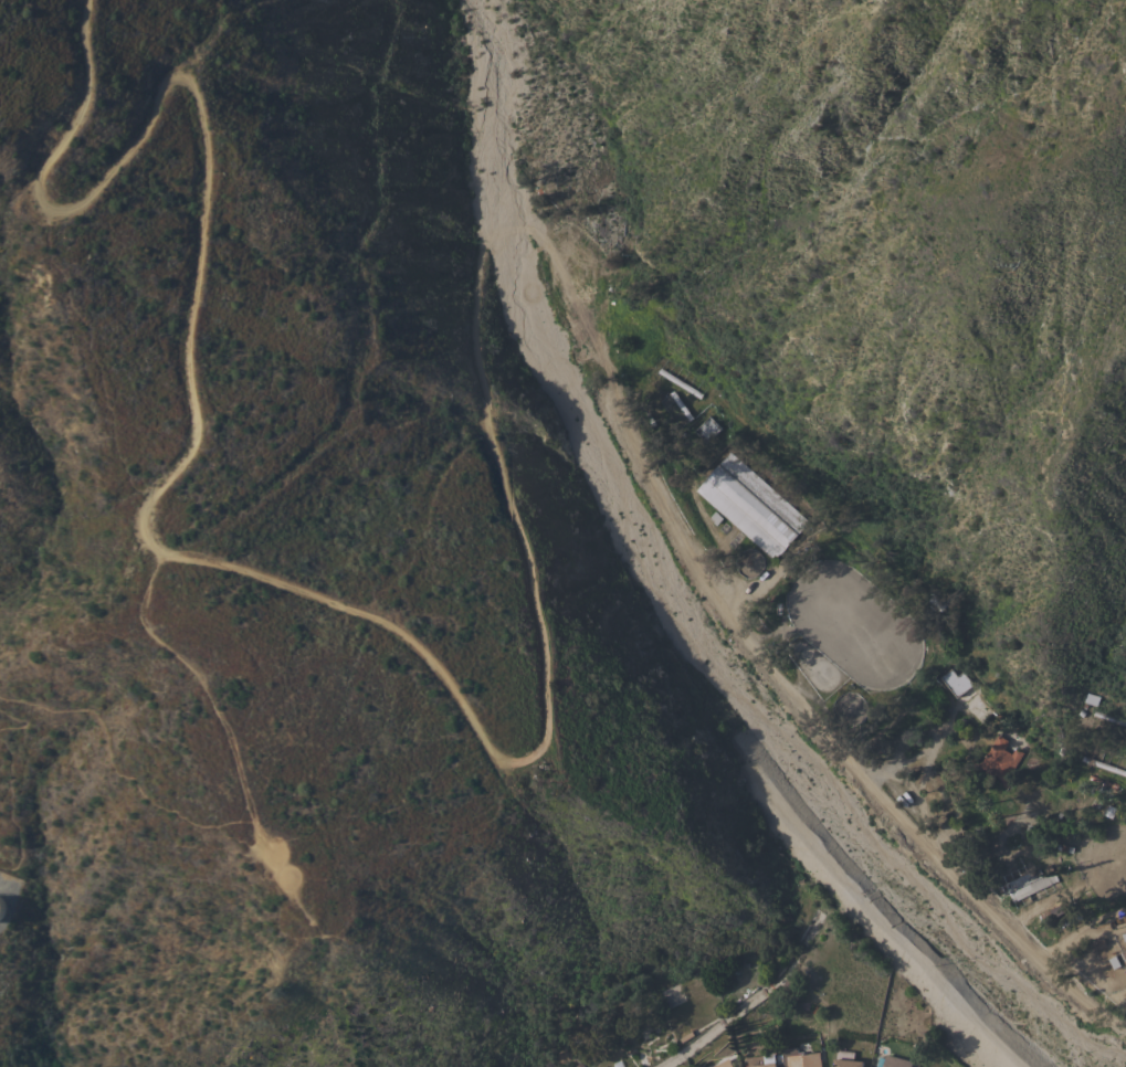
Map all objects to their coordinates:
park: (566, 138)
building: (641, 299)
building: (640, 360)
building: (678, 382)
building: (681, 405)
building: (707, 430)
building: (750, 505)
park: (852, 626)
road: (544, 652)
building: (957, 684)
building: (1108, 718)
building: (899, 739)
building: (1000, 760)
building: (1102, 764)
road: (8, 775)
building: (1123, 789)
building: (1019, 792)
building: (938, 795)
building: (1043, 807)
road: (260, 835)
building: (1020, 880)
building: (1032, 886)
building: (2, 908)
building: (1057, 910)
building: (1070, 919)
road: (884, 922)
road: (1076, 925)
road: (747, 1002)
building: (799, 1058)
building: (845, 1059)
building: (760, 1060)
building: (895, 1061)
building: (723, 1064)

